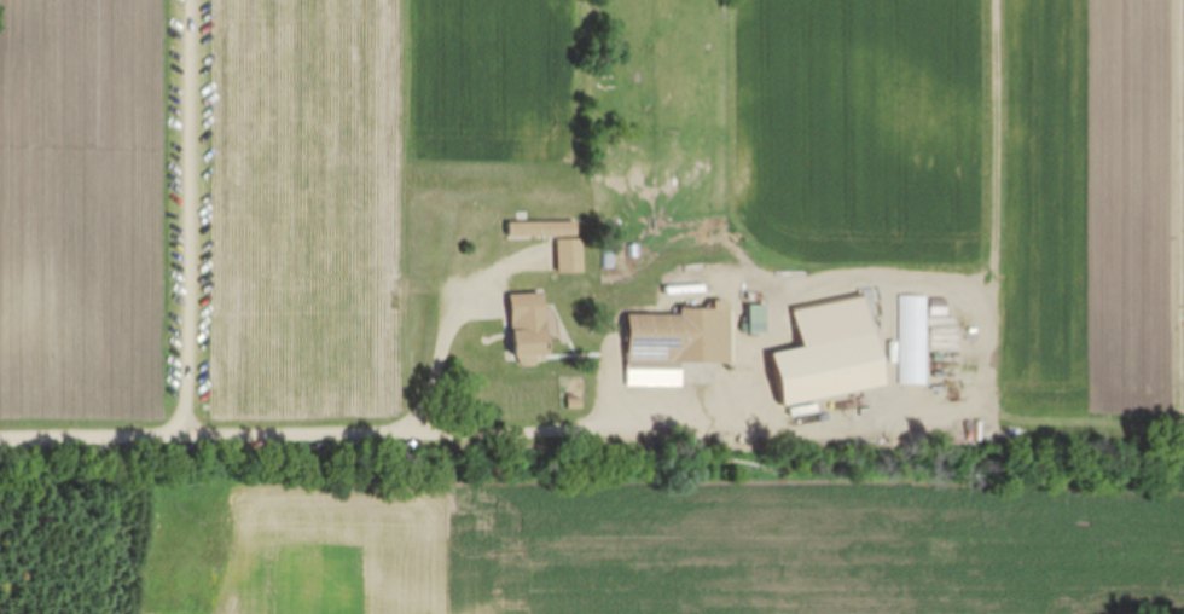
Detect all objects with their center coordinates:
road: (190, 218)
building: (545, 230)
building: (532, 324)
building: (681, 337)
building: (830, 353)
road: (442, 354)
road: (378, 439)

